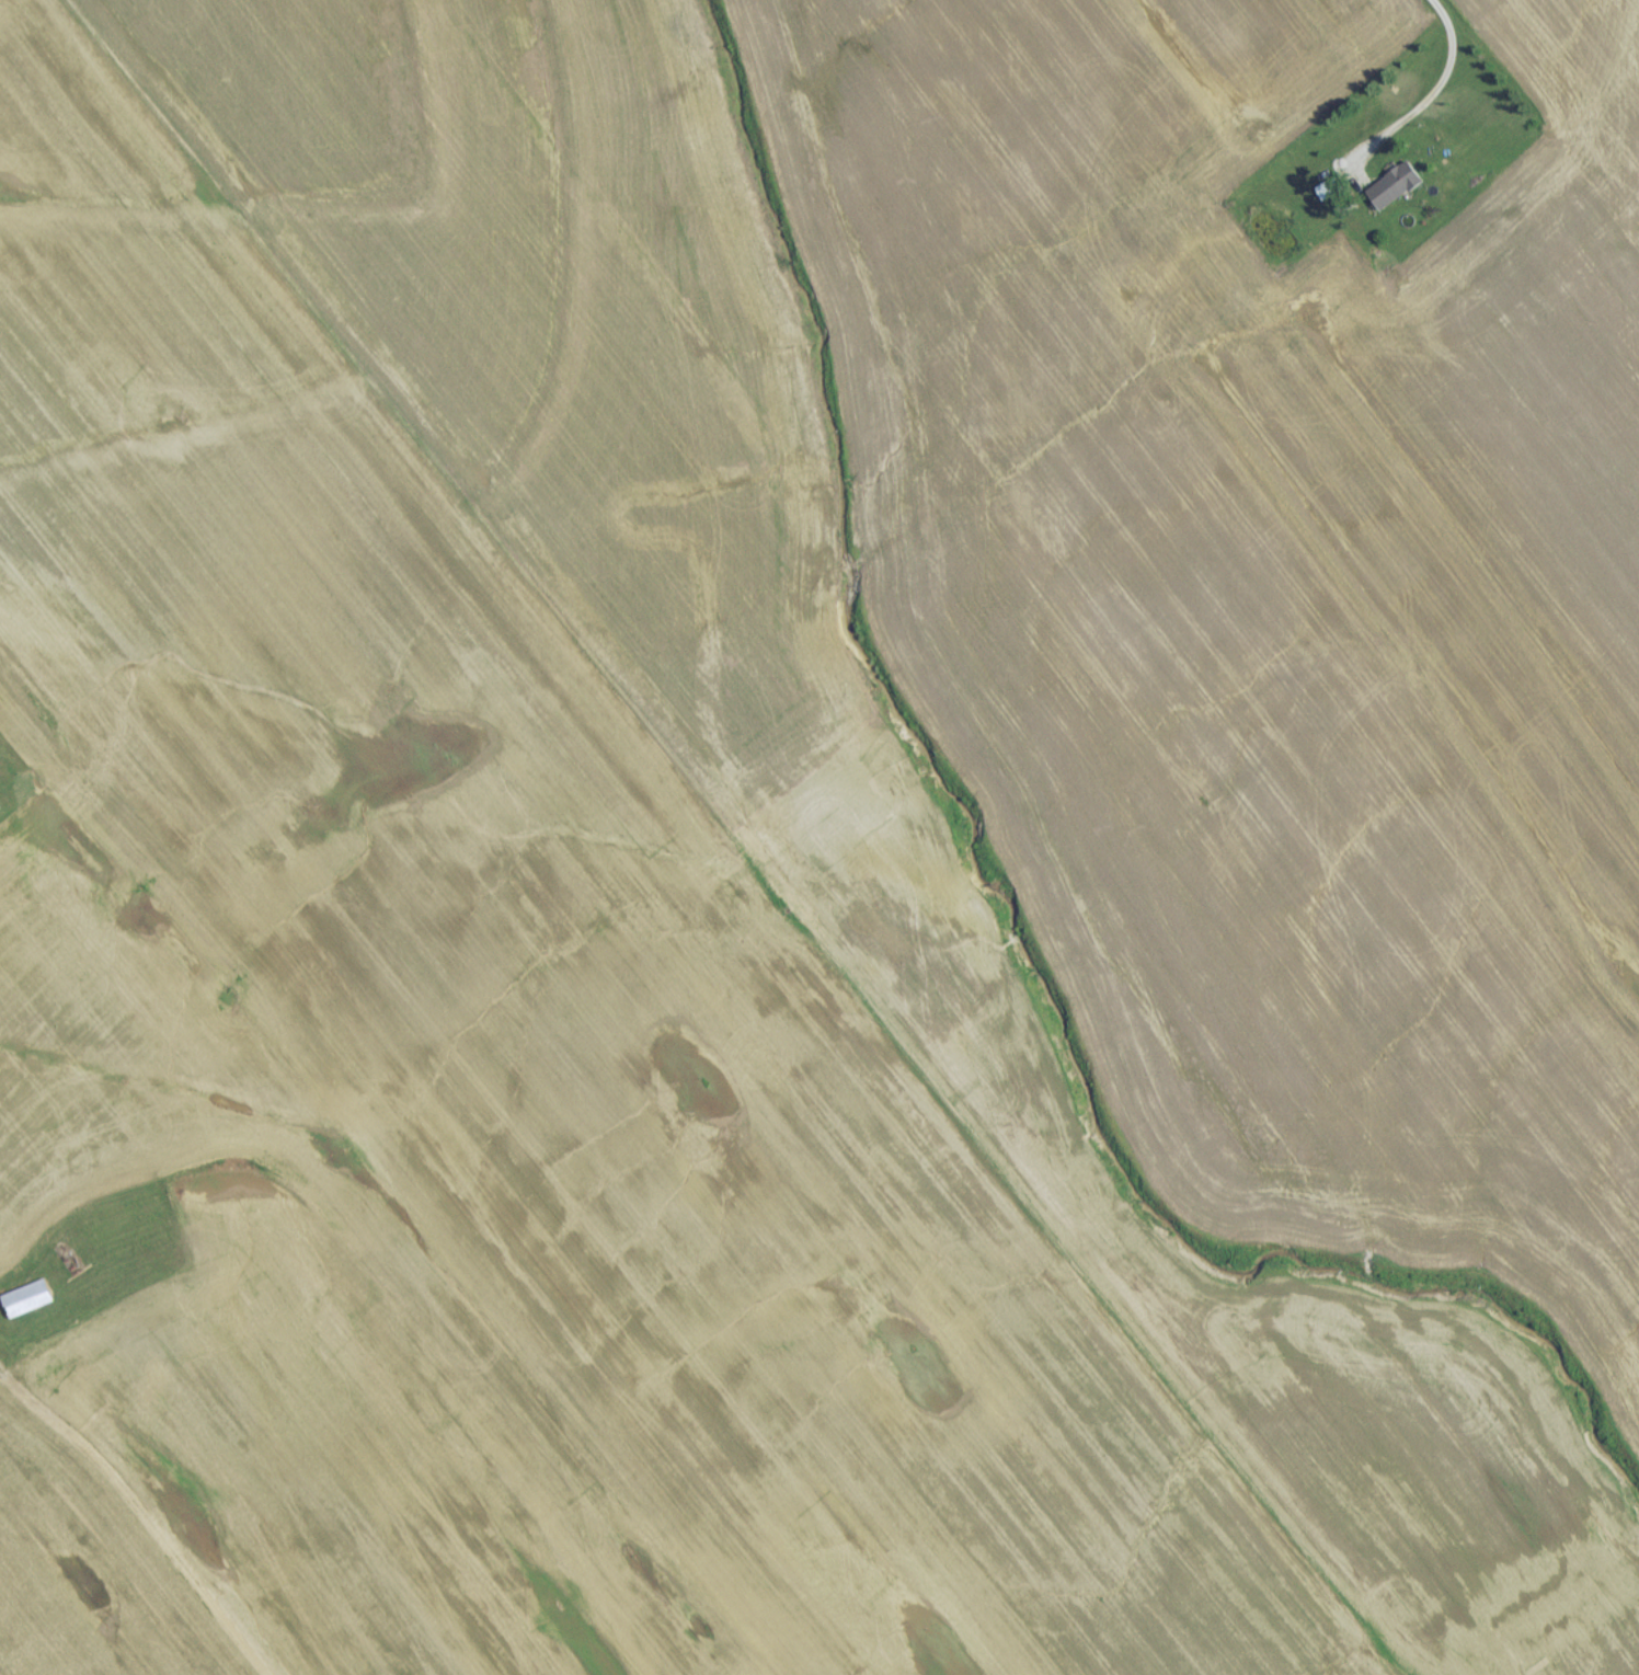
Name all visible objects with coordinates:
road: (1416, 111)
building: (30, 1305)
road: (72, 1308)
road: (134, 1521)

